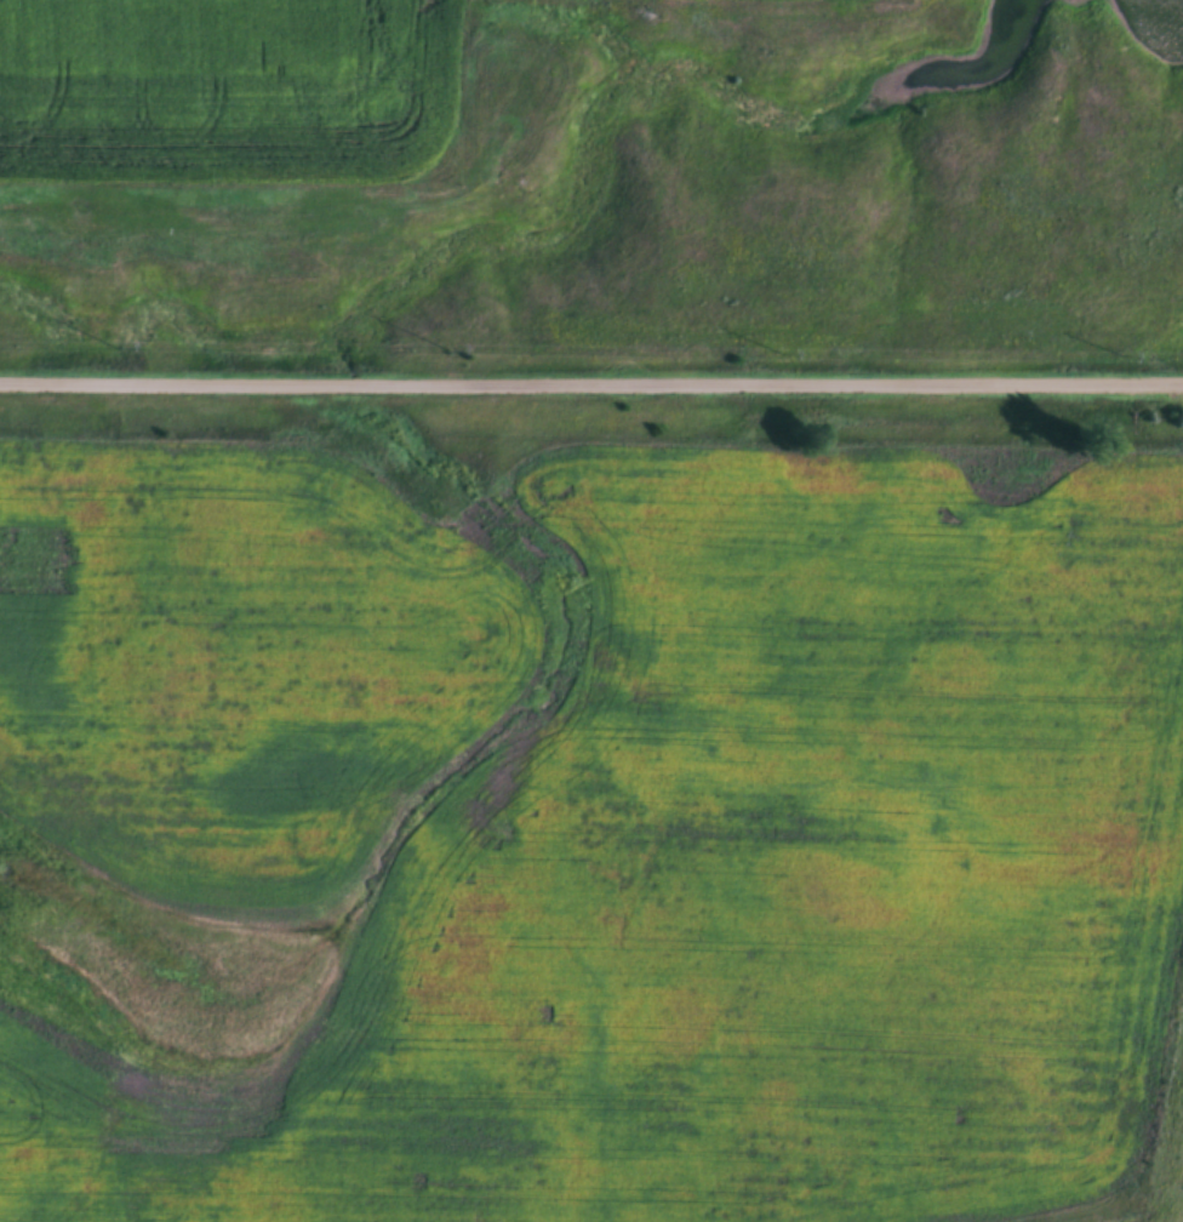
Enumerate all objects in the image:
river: (971, 86)
road: (590, 379)

